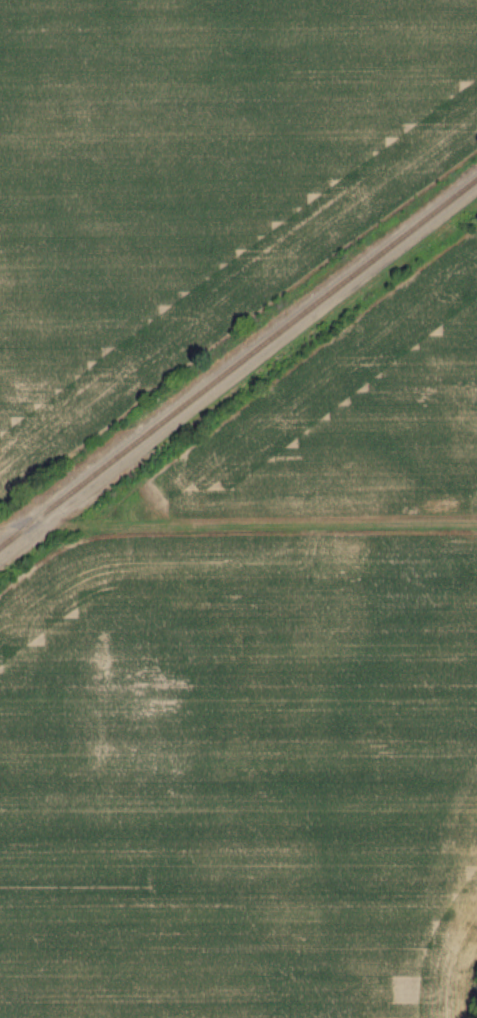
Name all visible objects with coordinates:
railway: (238, 373)

